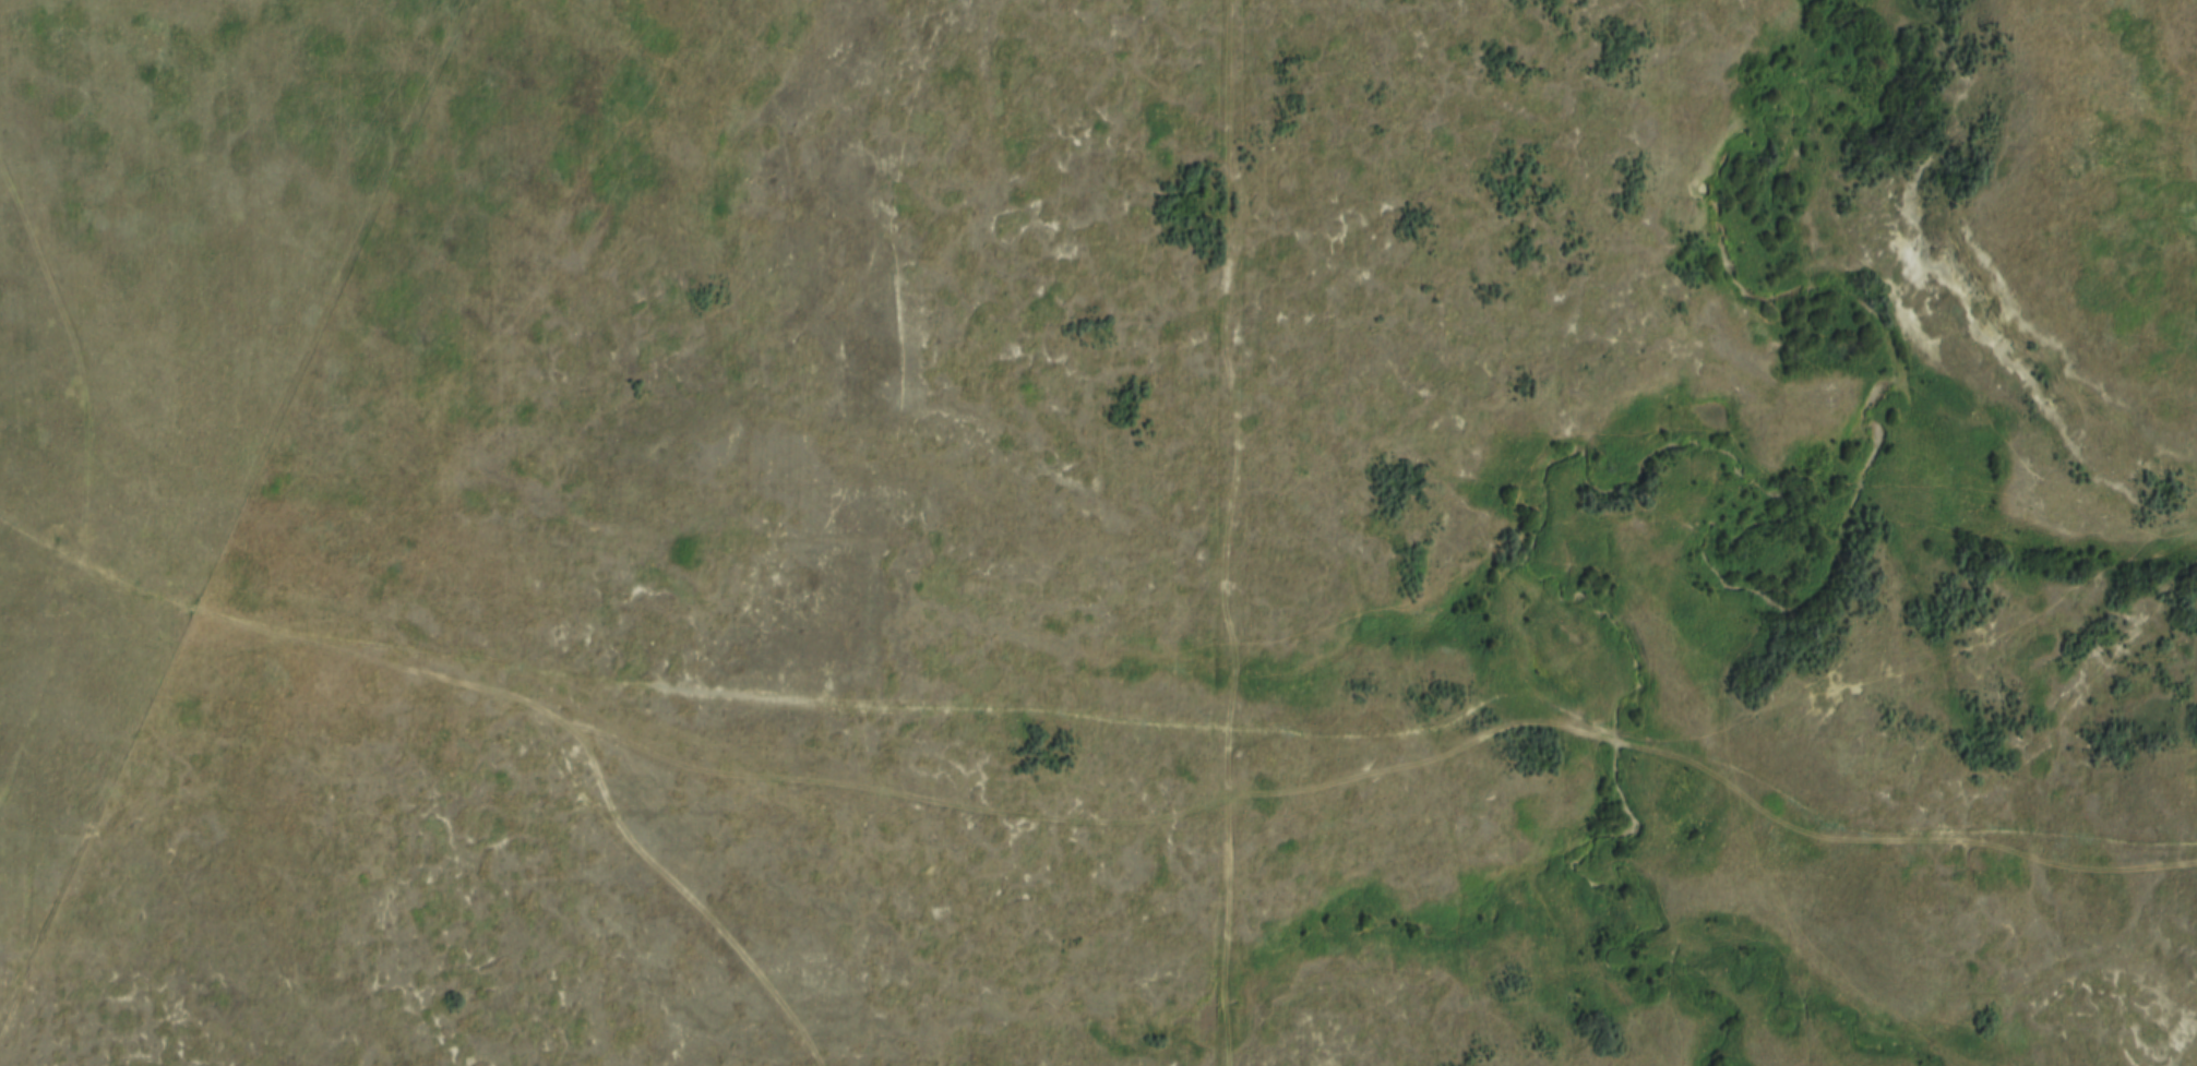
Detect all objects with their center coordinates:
road: (1229, 532)
road: (718, 924)

